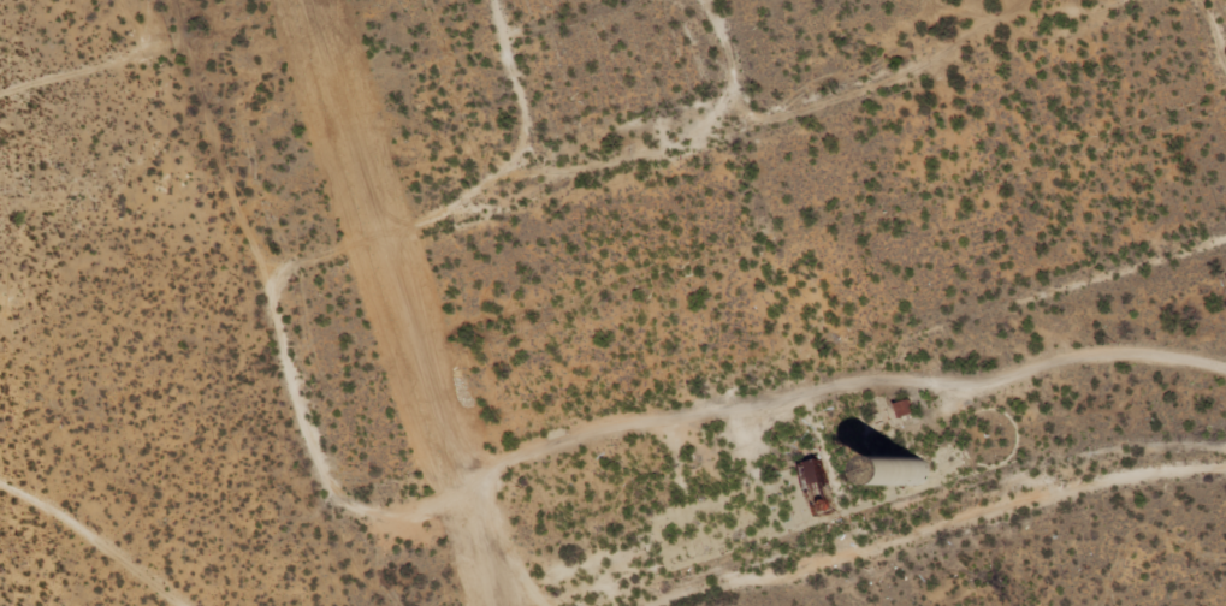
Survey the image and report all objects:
road: (959, 36)
road: (432, 69)
road: (606, 139)
road: (1214, 249)
road: (1071, 381)
road: (509, 463)
road: (1012, 528)
road: (69, 575)

